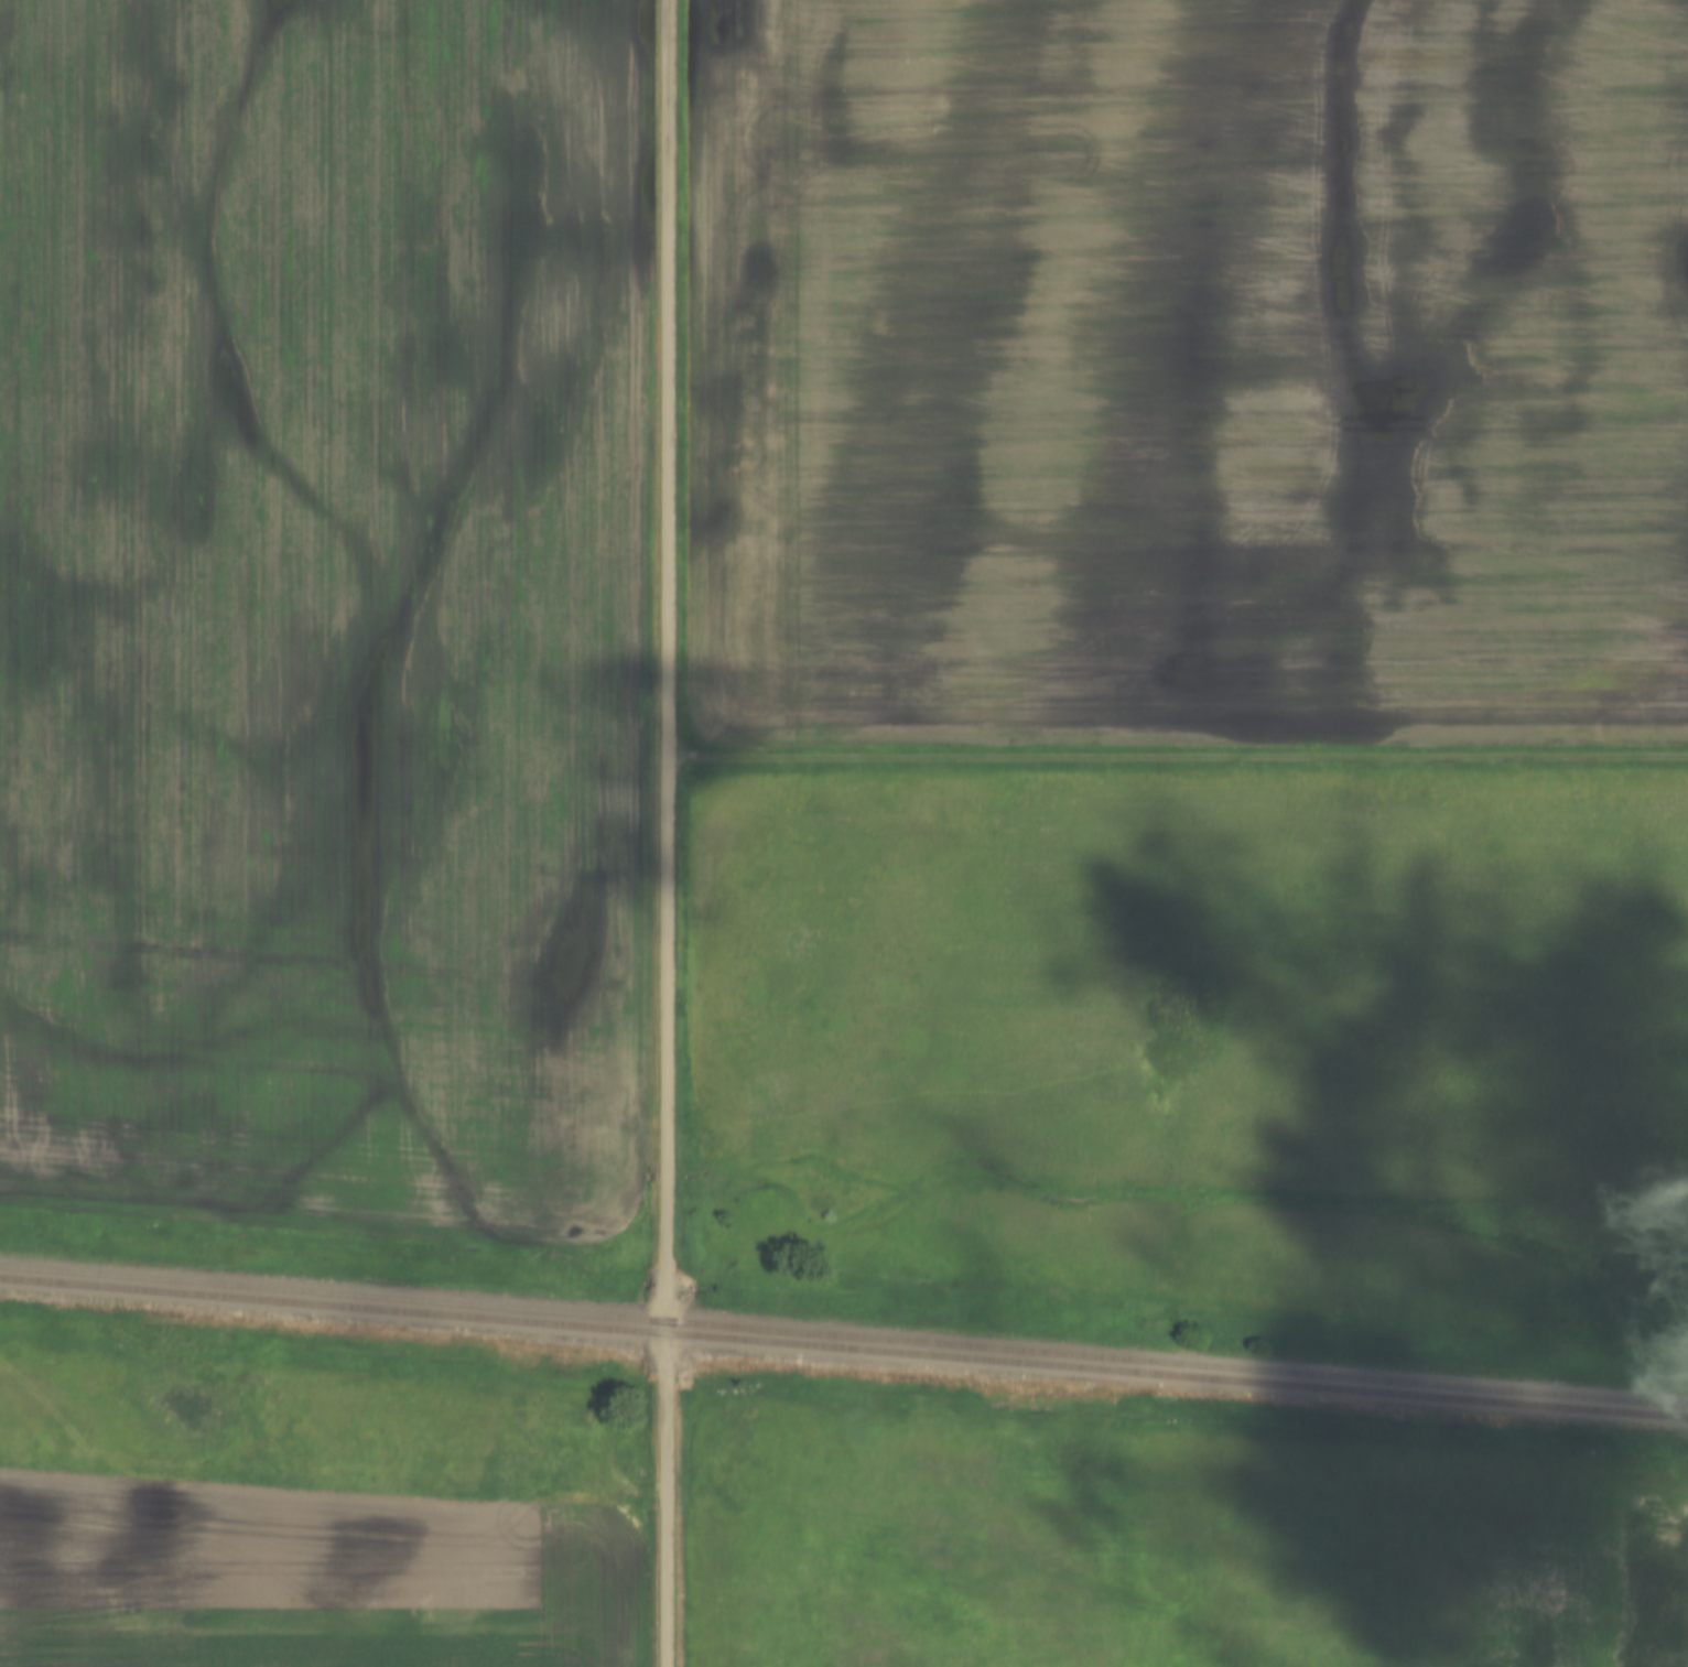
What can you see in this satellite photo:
road: (1179, 753)
road: (670, 833)
railway: (844, 1333)
railway: (844, 1346)

